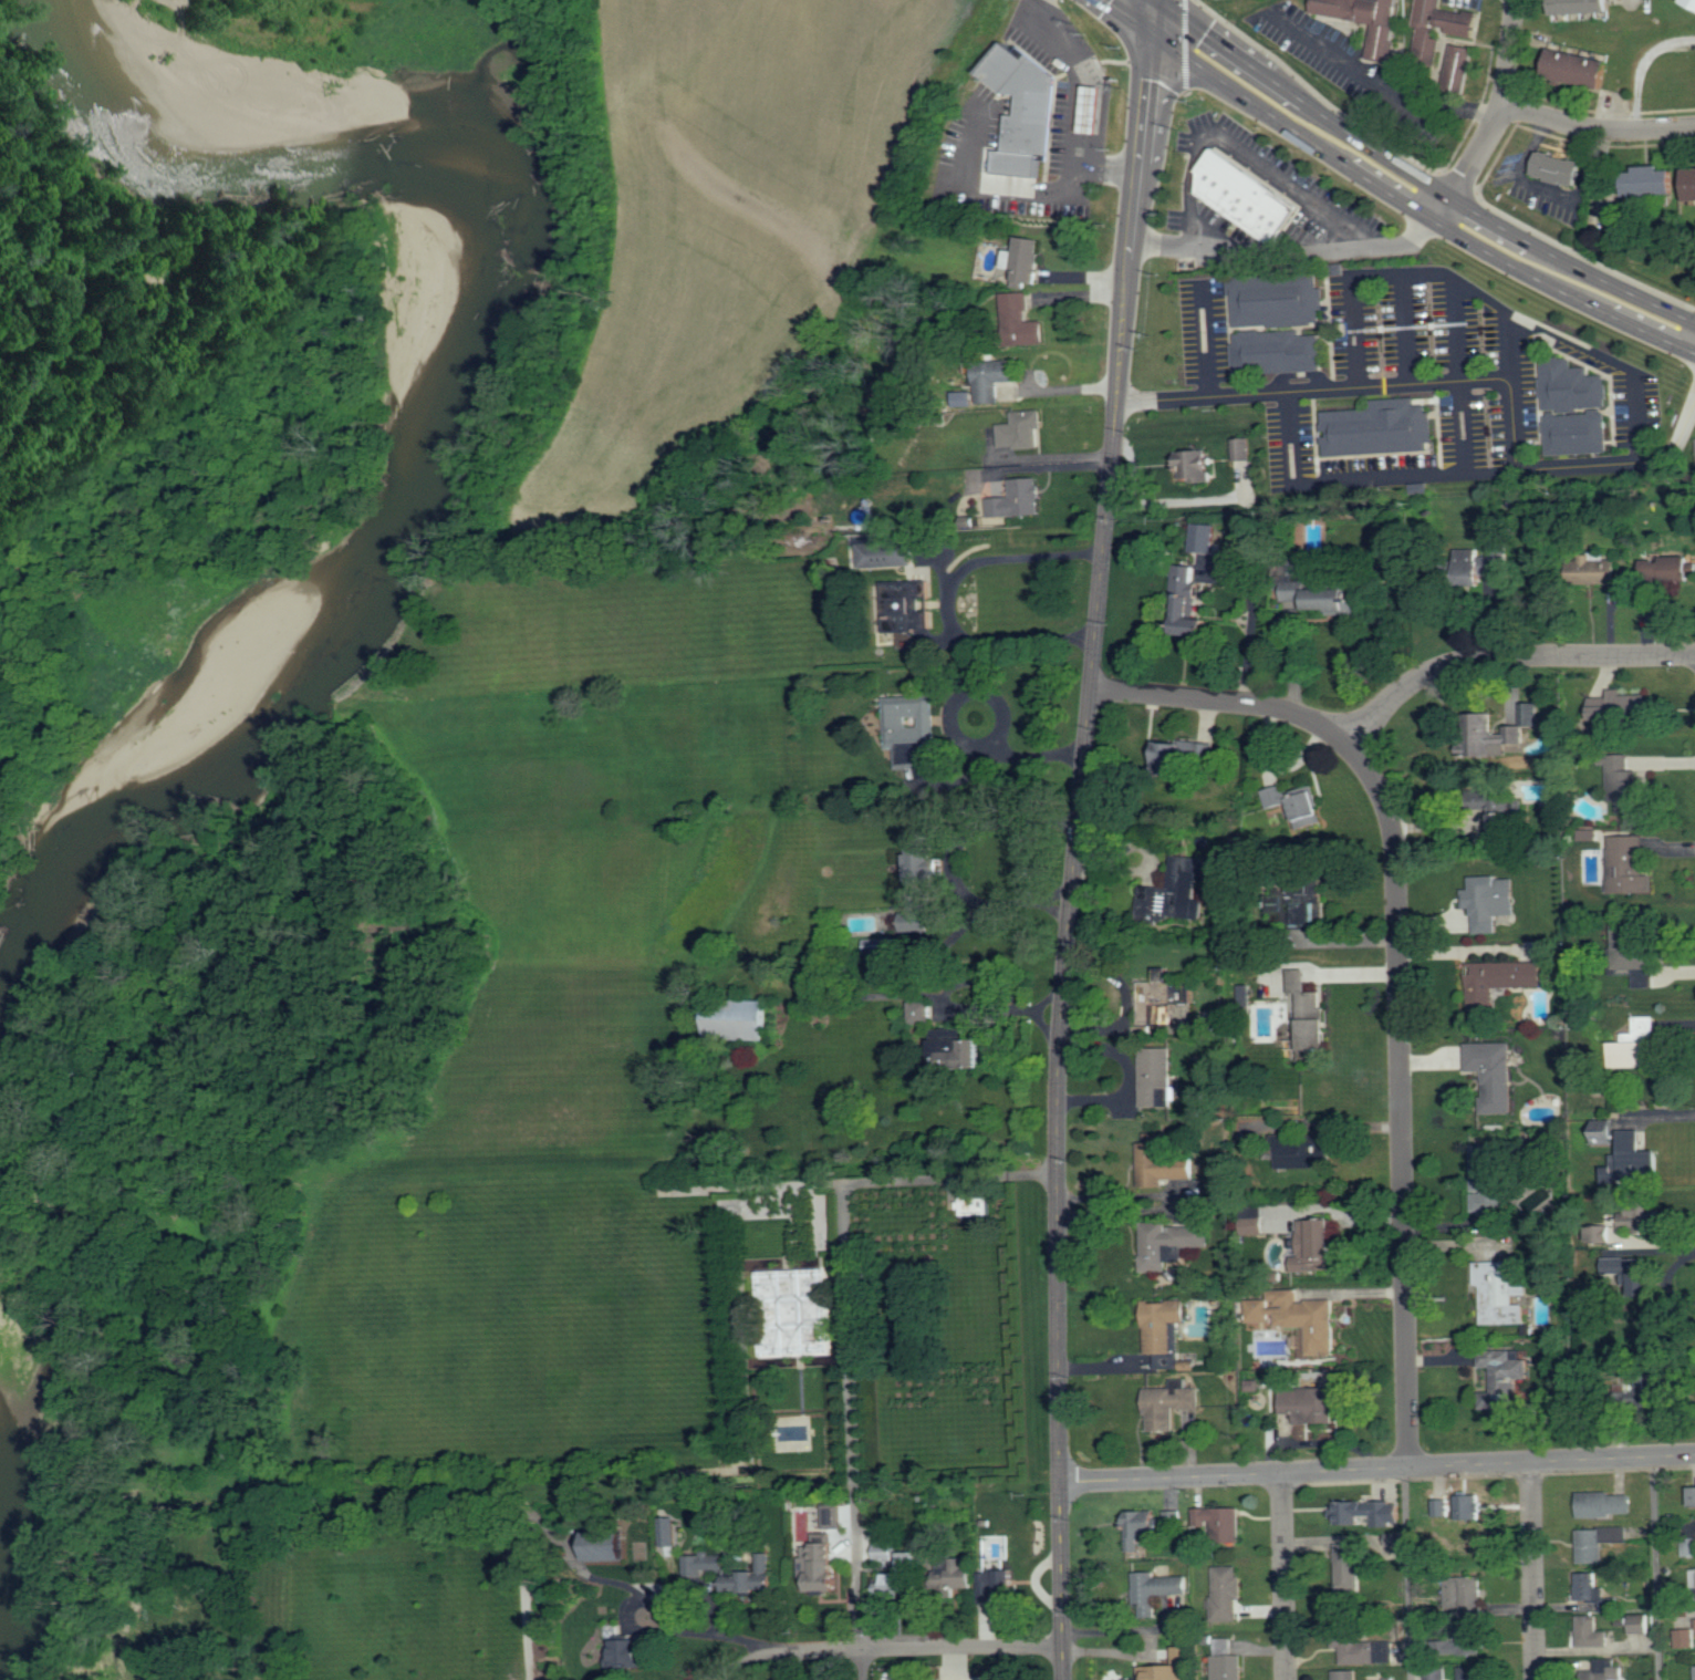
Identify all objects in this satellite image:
building: (1692, 2)
building: (1585, 7)
road: (1133, 13)
road: (1152, 13)
building: (1365, 20)
building: (1439, 25)
traffic signals: (1152, 27)
road: (1186, 46)
road: (1508, 51)
building: (1457, 64)
building: (1579, 68)
road: (1644, 69)
river: (195, 79)
road: (1384, 85)
road: (1079, 103)
building: (1089, 107)
gas station: (1089, 107)
building: (1021, 108)
road: (1597, 127)
road: (1474, 157)
road: (1251, 162)
building: (1559, 169)
road: (1434, 173)
parking lot: (1296, 182)
building: (1654, 182)
road: (979, 183)
building: (1692, 185)
road: (1416, 194)
building: (1244, 196)
building: (1025, 260)
building: (1275, 299)
building: (1022, 321)
road: (1539, 323)
road: (1405, 328)
road: (1355, 331)
parking lot: (1205, 333)
road: (1206, 336)
road: (1509, 343)
building: (1276, 351)
road: (1459, 374)
building: (995, 378)
road: (1468, 378)
parking lot: (1444, 381)
building: (1569, 384)
building: (1374, 426)
building: (1022, 429)
building: (1574, 432)
building: (1238, 449)
road: (1059, 460)
building: (1192, 464)
road: (1132, 469)
road: (1359, 479)
building: (1018, 499)
road: (1171, 502)
building: (1204, 537)
building: (887, 554)
river: (417, 557)
building: (1495, 558)
building: (1299, 568)
building: (1670, 568)
building: (1594, 569)
building: (1322, 597)
road: (949, 598)
building: (1188, 602)
building: (907, 608)
road: (1506, 656)
building: (1615, 708)
building: (911, 730)
building: (1499, 733)
building: (1202, 748)
road: (1084, 753)
building: (1172, 758)
building: (1628, 785)
building: (1296, 803)
building: (1504, 819)
building: (1590, 838)
road: (953, 857)
building: (1630, 867)
building: (923, 882)
building: (1189, 886)
building: (1490, 901)
building: (1311, 909)
building: (883, 945)
building: (1636, 954)
road: (1396, 966)
building: (1500, 982)
building: (1163, 997)
building: (922, 1012)
building: (1310, 1014)
building: (740, 1020)
building: (1636, 1046)
building: (959, 1054)
building: (1495, 1074)
building: (1156, 1077)
building: (1605, 1131)
building: (1306, 1152)
building: (1633, 1160)
building: (1162, 1162)
road: (950, 1176)
building: (1489, 1178)
building: (975, 1206)
building: (1645, 1216)
building: (1254, 1223)
building: (1601, 1235)
building: (1171, 1243)
building: (1316, 1245)
building: (1629, 1271)
building: (1501, 1292)
building: (792, 1311)
building: (1300, 1318)
building: (1163, 1330)
building: (1504, 1378)
building: (1254, 1386)
building: (1650, 1390)
building: (1171, 1404)
building: (1311, 1406)
road: (853, 1429)
road: (1376, 1469)
building: (1693, 1496)
river: (4, 1498)
building: (1603, 1505)
building: (1470, 1510)
building: (1361, 1513)
building: (1394, 1513)
building: (1219, 1524)
building: (1151, 1525)
building: (667, 1532)
building: (802, 1533)
building: (1395, 1538)
building: (1599, 1543)
building: (885, 1544)
building: (611, 1546)
building: (1688, 1548)
building: (820, 1566)
building: (705, 1567)
building: (1350, 1568)
road: (1654, 1568)
road: (1532, 1570)
road: (1406, 1573)
road: (1283, 1576)
building: (955, 1577)
building: (755, 1578)
building: (902, 1578)
building: (1692, 1579)
road: (1061, 1580)
building: (996, 1584)
building: (1156, 1590)
building: (1594, 1591)
building: (1226, 1594)
building: (1466, 1596)
building: (1641, 1624)
road: (711, 1631)
building: (1592, 1634)
building: (1685, 1638)
building: (1468, 1641)
building: (1362, 1646)
road: (884, 1649)
building: (628, 1651)
building: (1184, 1657)
building: (1227, 1661)
building: (1603, 1670)
building: (1473, 1673)
building: (1345, 1674)
building: (1437, 1676)
building: (1391, 1679)

